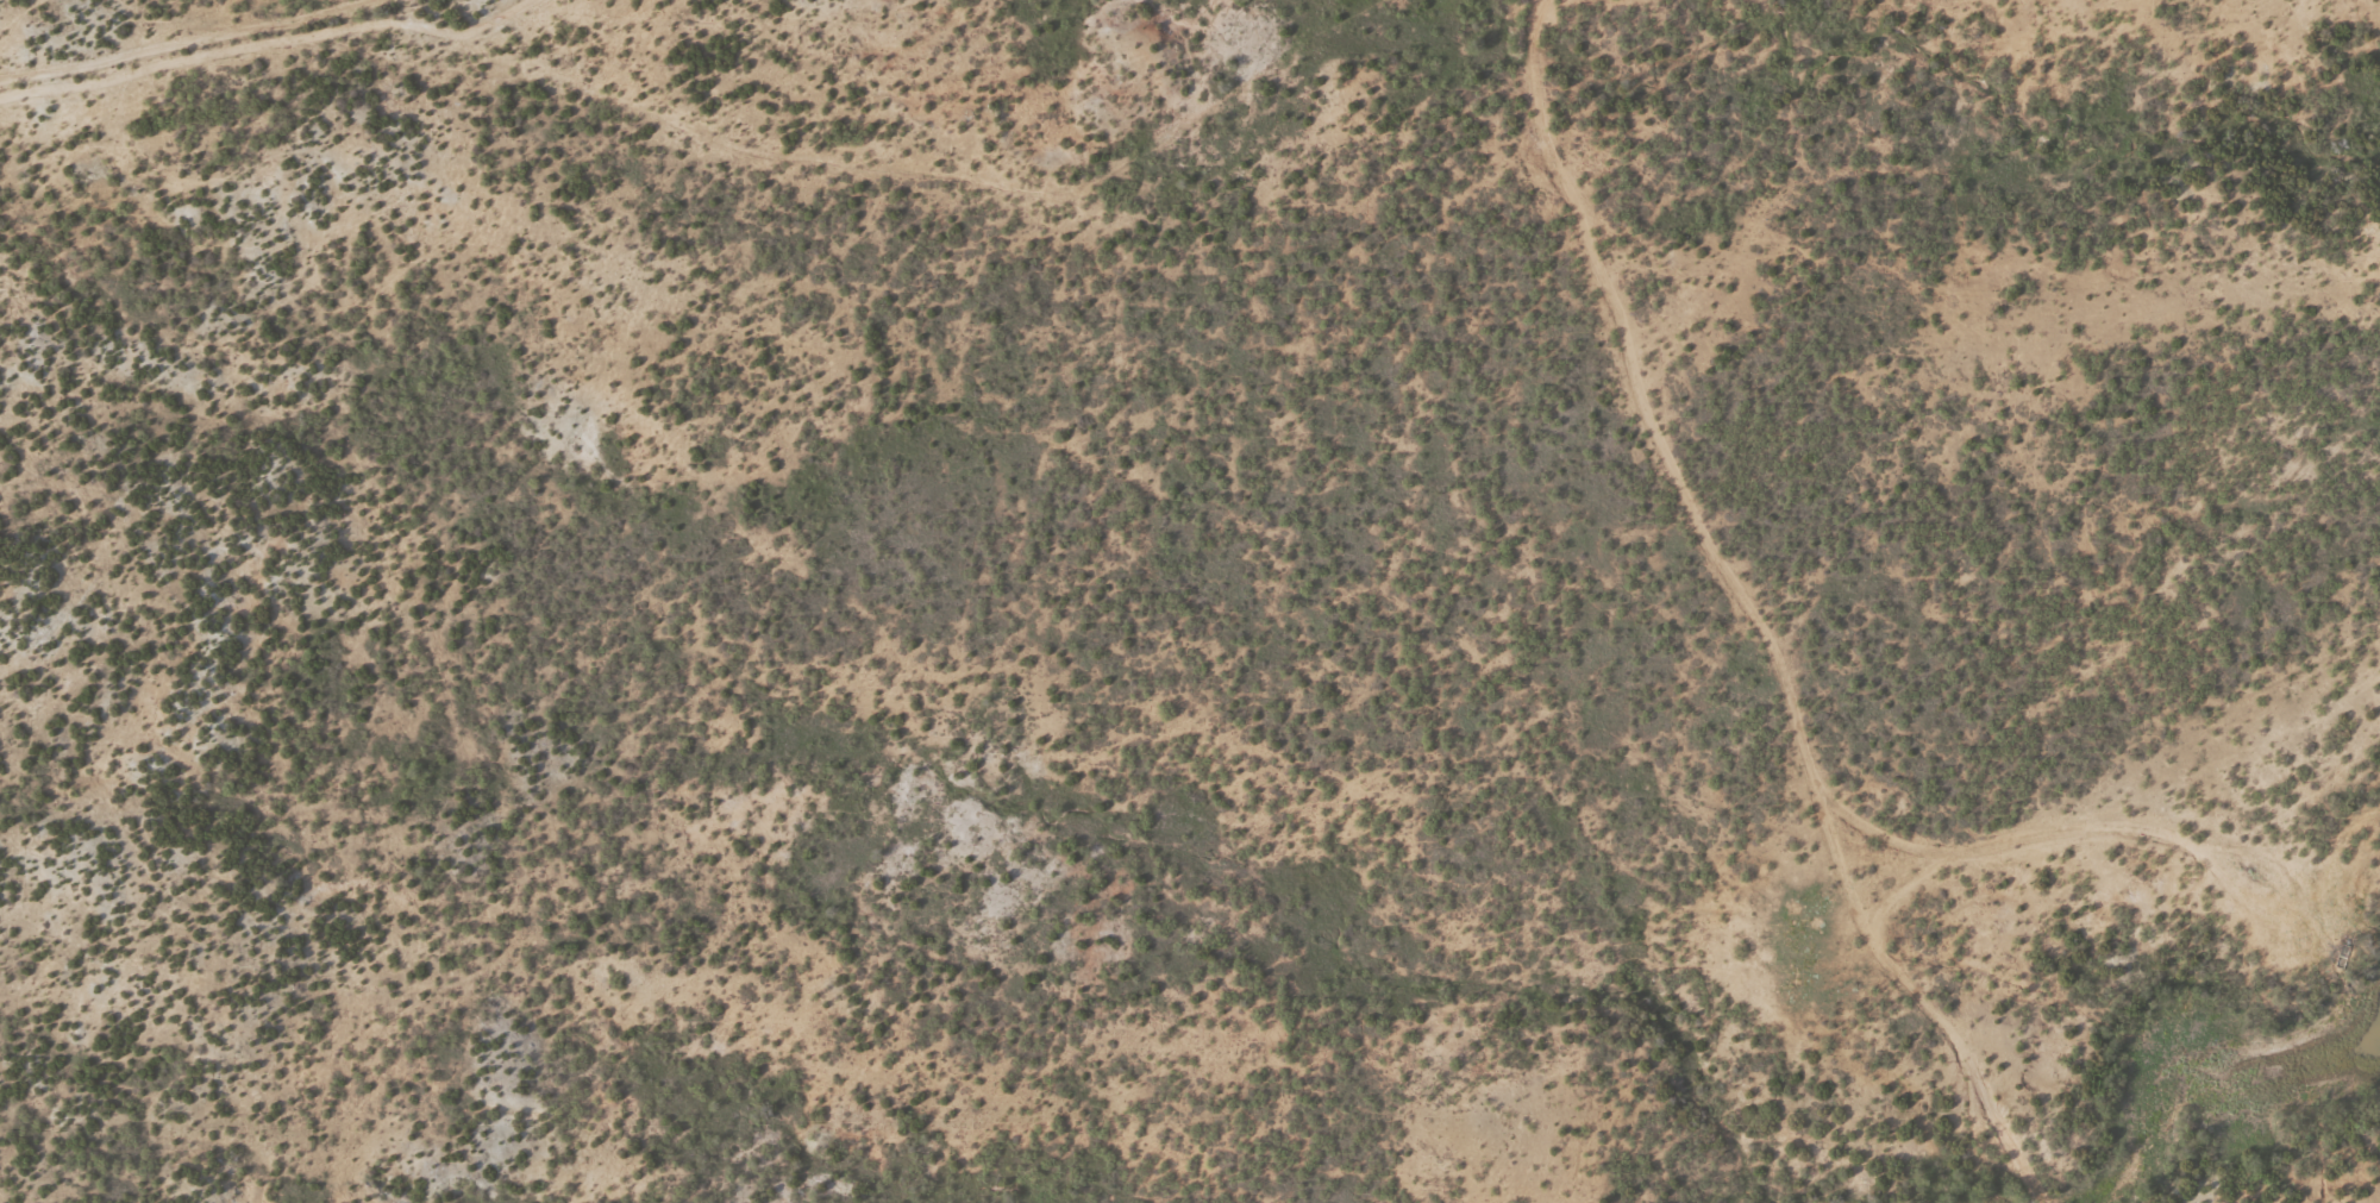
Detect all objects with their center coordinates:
road: (931, 183)
road: (1787, 610)

